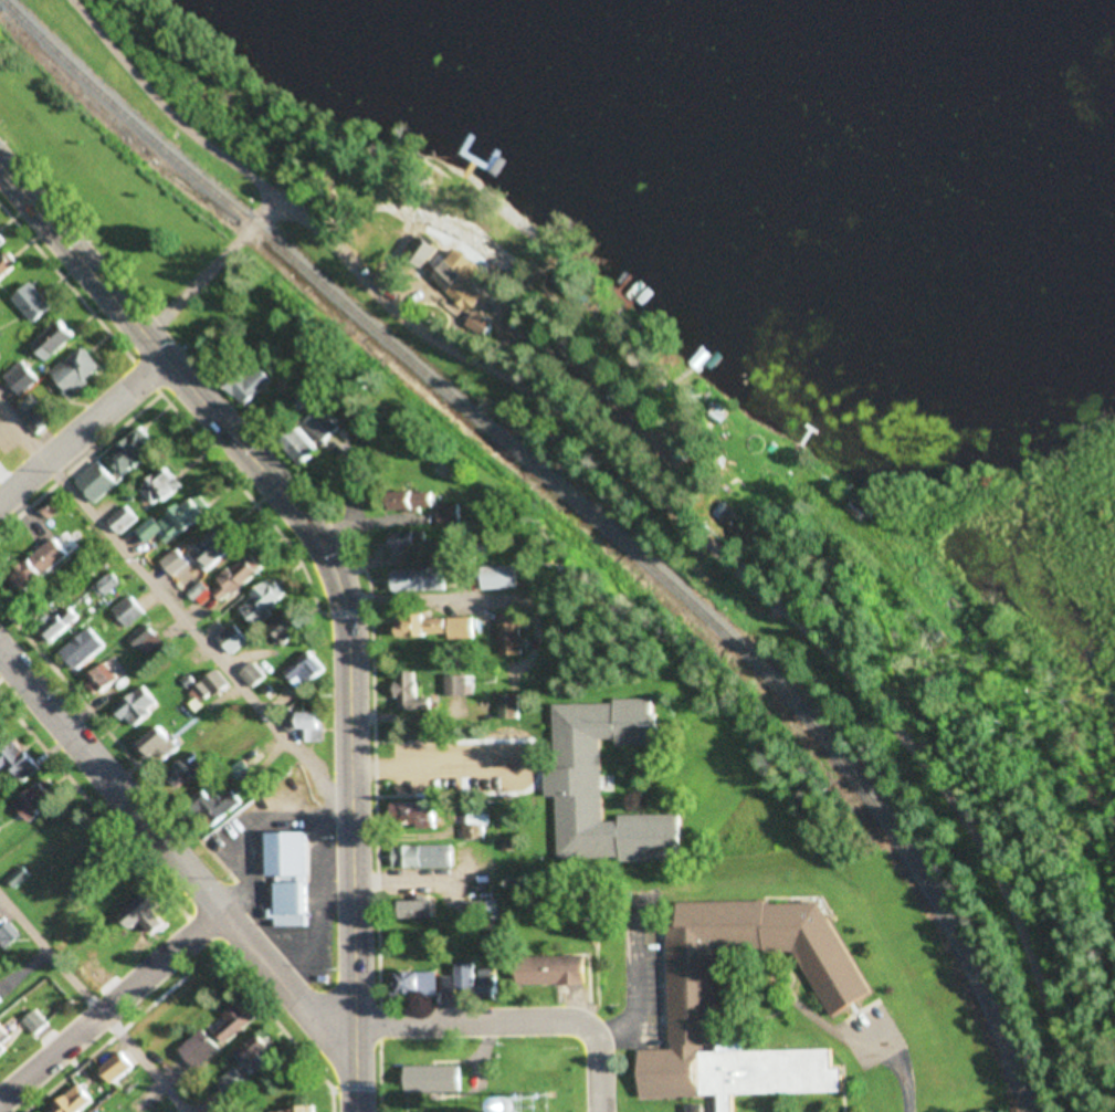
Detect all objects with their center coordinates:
park: (188, 88)
park: (104, 182)
building: (0, 245)
building: (7, 263)
road: (210, 265)
building: (461, 277)
building: (33, 302)
railway: (366, 323)
building: (54, 339)
building: (77, 370)
building: (21, 378)
building: (254, 384)
road: (190, 389)
building: (38, 421)
road: (187, 424)
road: (83, 429)
building: (313, 434)
building: (135, 452)
building: (97, 482)
building: (165, 487)
road: (652, 493)
building: (416, 499)
building: (858, 512)
building: (125, 518)
building: (179, 520)
building: (409, 544)
building: (217, 548)
building: (45, 560)
building: (162, 570)
building: (105, 577)
building: (239, 577)
building: (424, 578)
building: (263, 602)
road: (170, 609)
building: (130, 610)
building: (60, 621)
building: (438, 626)
building: (288, 627)
building: (513, 632)
building: (144, 636)
building: (234, 638)
building: (85, 648)
building: (124, 659)
building: (305, 670)
building: (254, 675)
building: (103, 680)
building: (457, 684)
building: (210, 688)
building: (412, 692)
building: (139, 705)
building: (509, 705)
building: (314, 726)
building: (159, 745)
road: (522, 745)
building: (19, 760)
building: (187, 769)
road: (417, 769)
building: (574, 779)
building: (40, 800)
building: (221, 802)
building: (414, 814)
building: (477, 825)
road: (168, 850)
building: (464, 853)
building: (424, 854)
railway: (909, 858)
road: (349, 872)
building: (291, 878)
building: (421, 909)
building: (146, 917)
building: (8, 935)
building: (555, 971)
building: (474, 982)
building: (418, 984)
building: (1, 1004)
road: (88, 1008)
building: (693, 1008)
road: (112, 1010)
building: (238, 1020)
building: (36, 1021)
road: (512, 1022)
building: (6, 1039)
building: (201, 1049)
building: (257, 1052)
building: (120, 1067)
building: (436, 1079)
building: (77, 1101)
building: (302, 1110)
water tower: (540, 1110)

